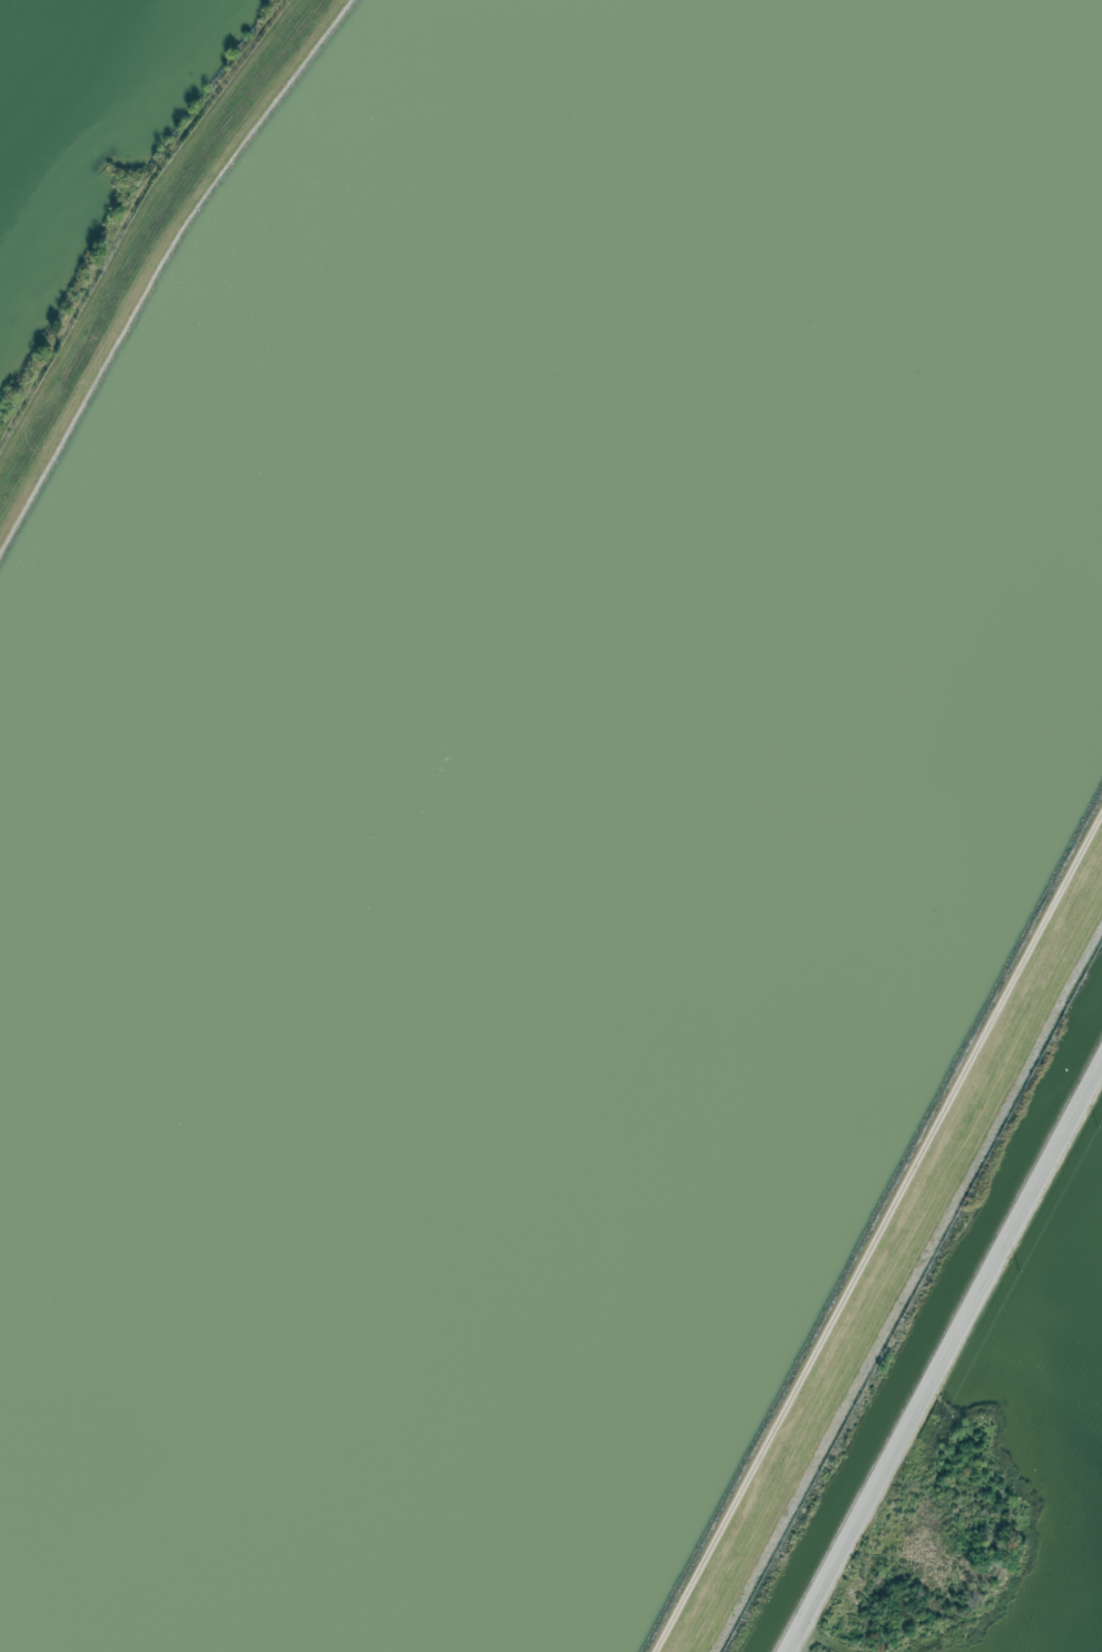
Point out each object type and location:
road: (870, 1229)
road: (946, 1360)

